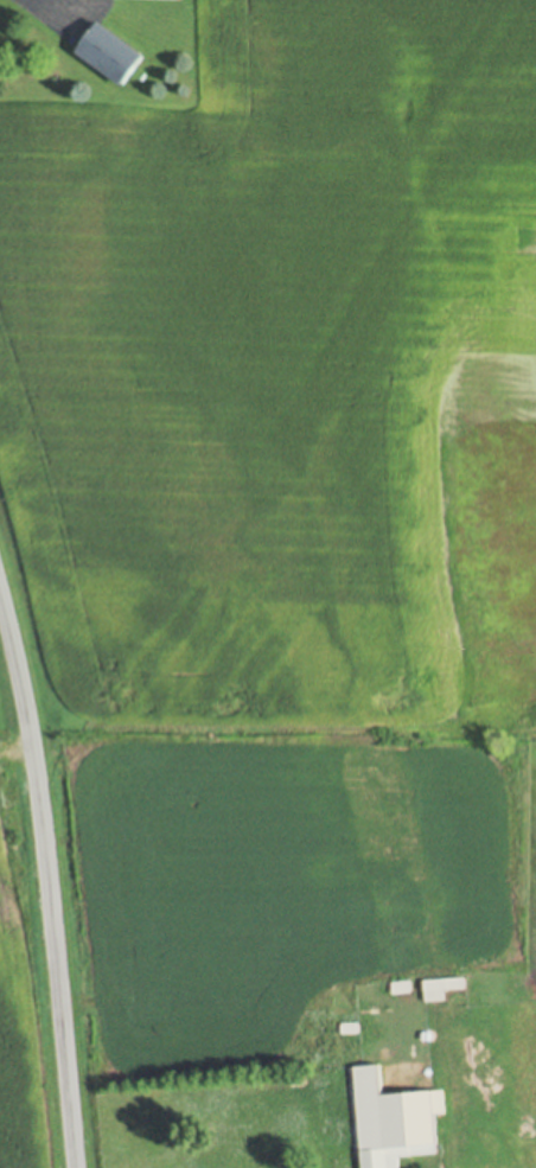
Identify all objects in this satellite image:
building: (114, 57)
road: (50, 873)
building: (442, 977)
building: (402, 978)
building: (444, 987)
building: (343, 1021)
building: (343, 1028)
building: (299, 1074)
building: (396, 1104)

